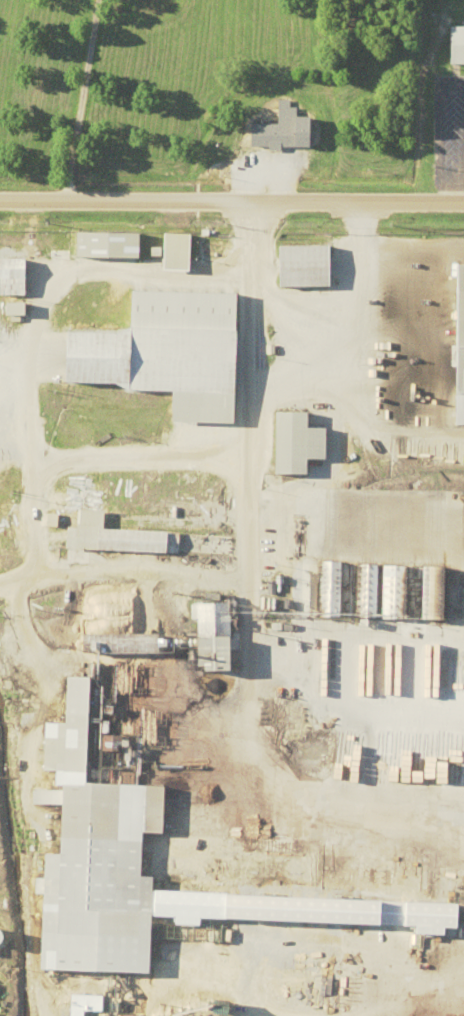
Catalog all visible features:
building: (457, 45)
road: (75, 99)
building: (286, 130)
road: (231, 200)
building: (103, 244)
building: (176, 252)
building: (310, 266)
building: (12, 277)
building: (458, 346)
building: (170, 352)
building: (303, 444)
building: (146, 539)
road: (226, 548)
building: (216, 639)
building: (119, 643)
building: (373, 670)
building: (400, 670)
building: (105, 854)
building: (316, 871)
building: (430, 881)
road: (205, 962)
railway: (153, 986)
road: (449, 1014)

